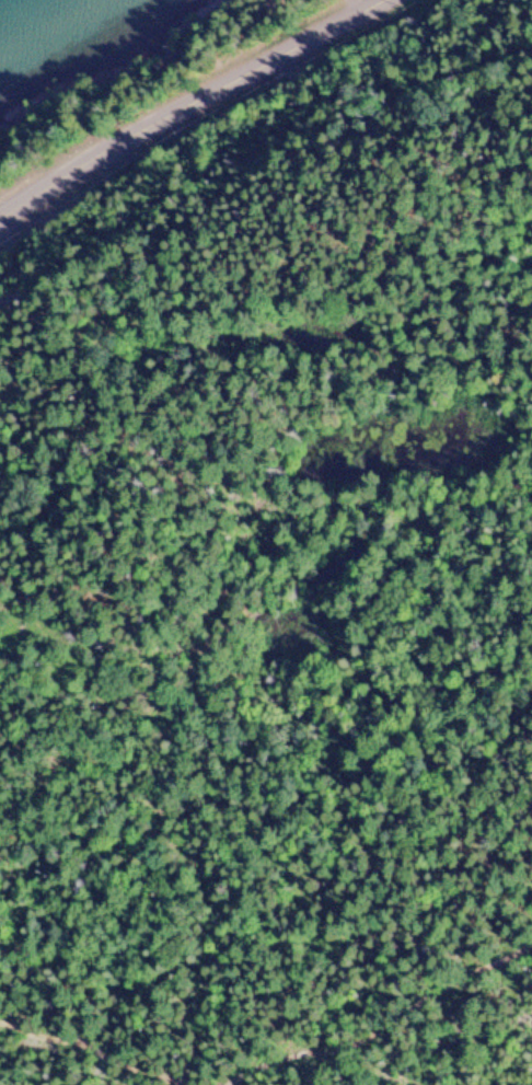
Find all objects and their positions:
road: (185, 104)

